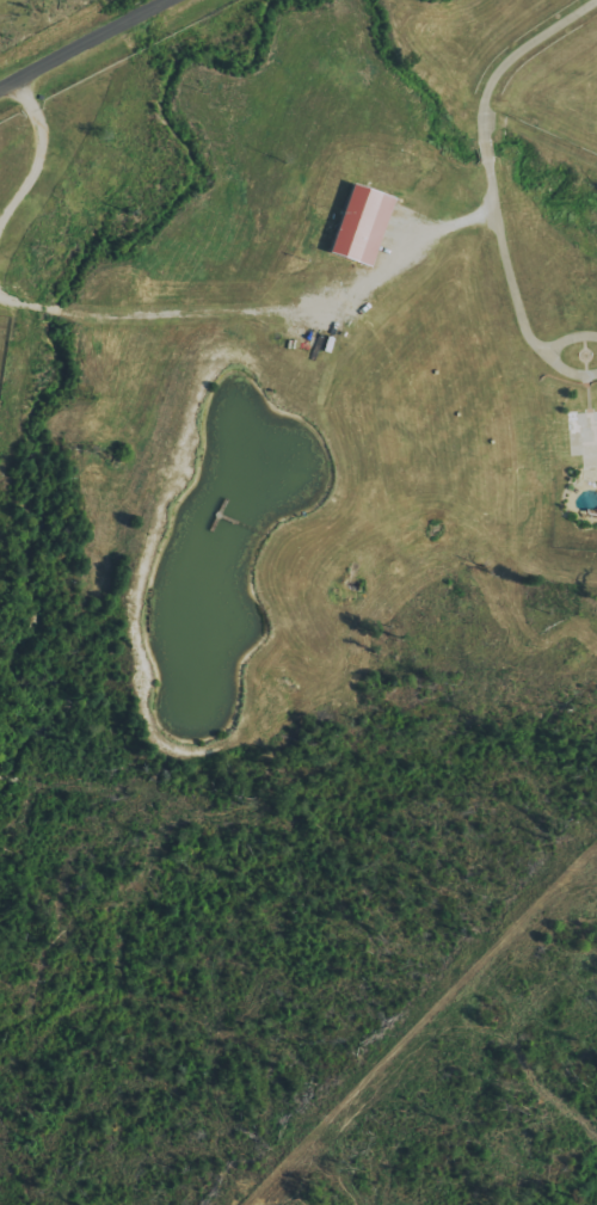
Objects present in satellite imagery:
road: (81, 39)
road: (47, 162)
road: (496, 185)
building: (364, 226)
road: (261, 316)

